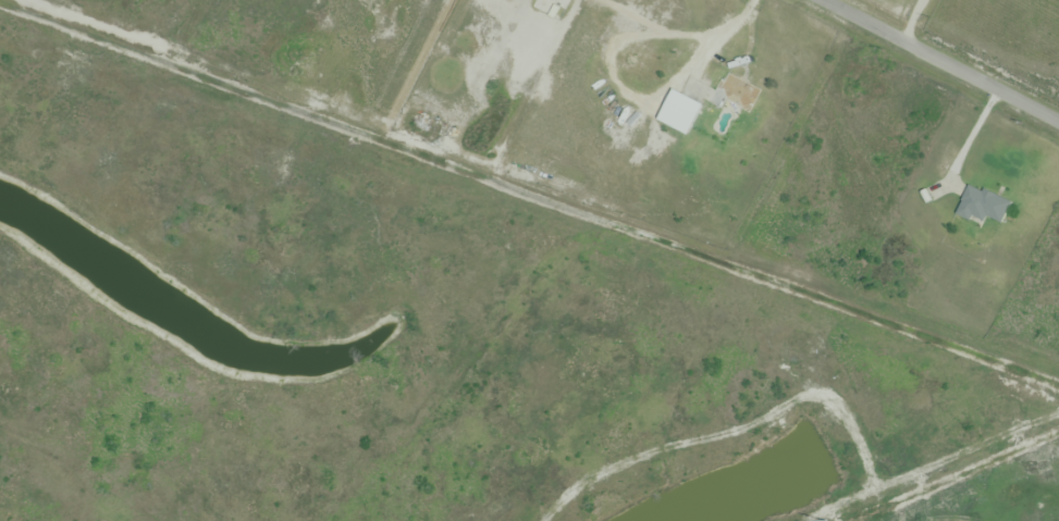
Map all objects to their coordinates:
road: (750, 5)
building: (550, 8)
road: (909, 20)
road: (939, 61)
road: (722, 62)
building: (735, 94)
building: (685, 110)
road: (963, 142)
building: (982, 206)

